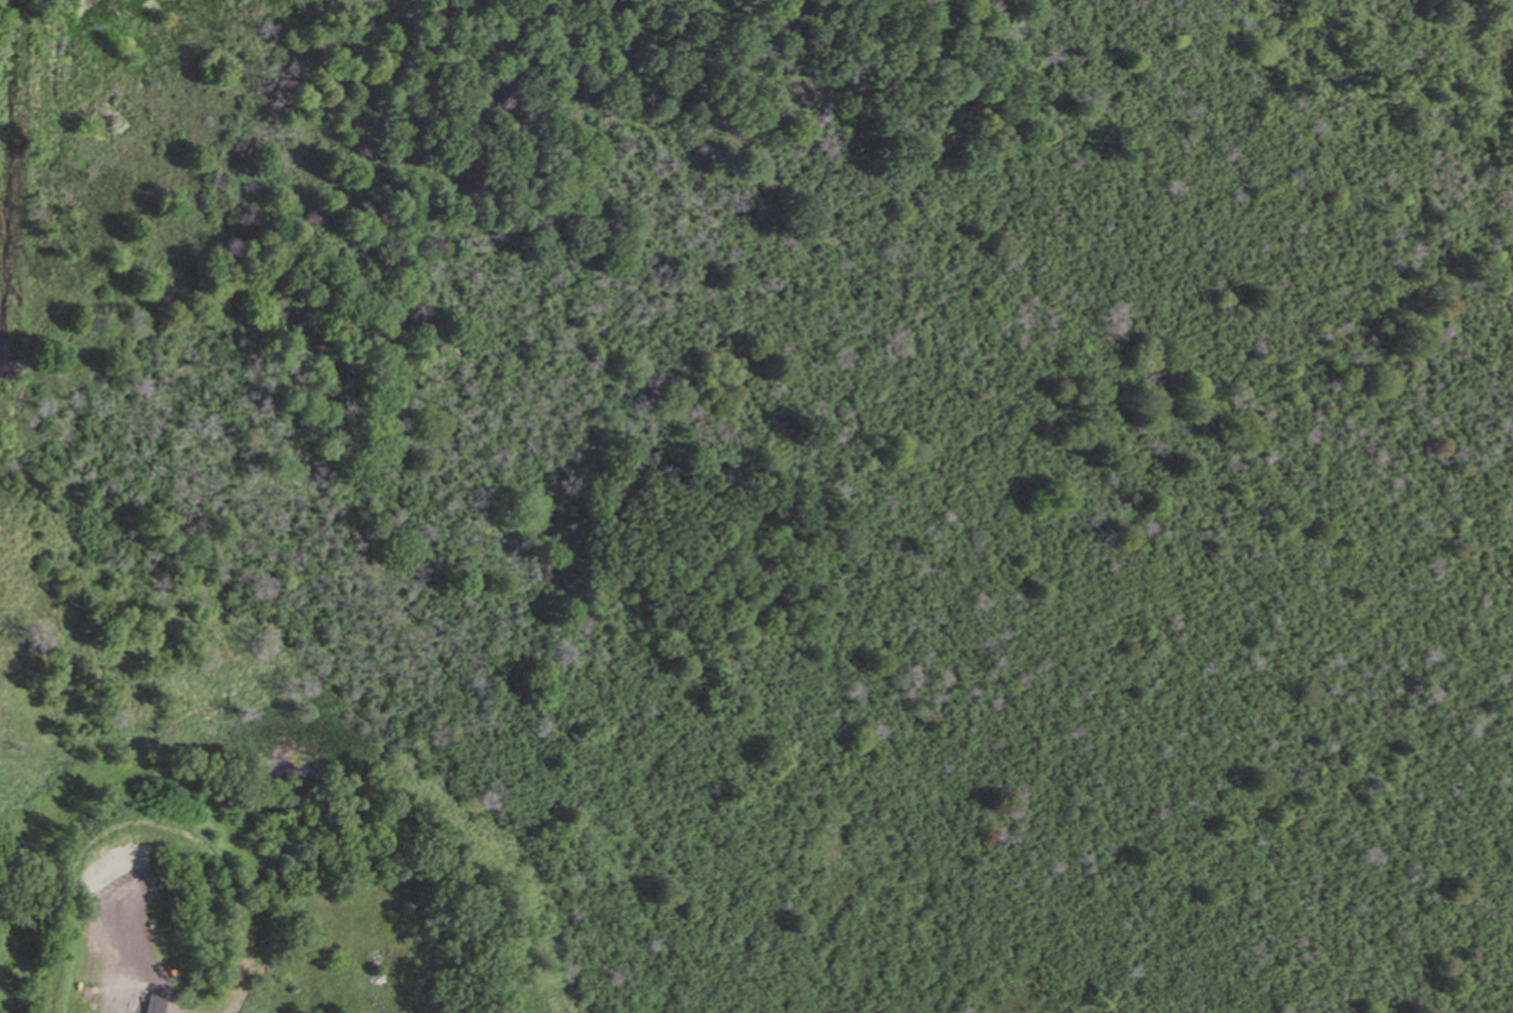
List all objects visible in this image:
building: (151, 1004)

